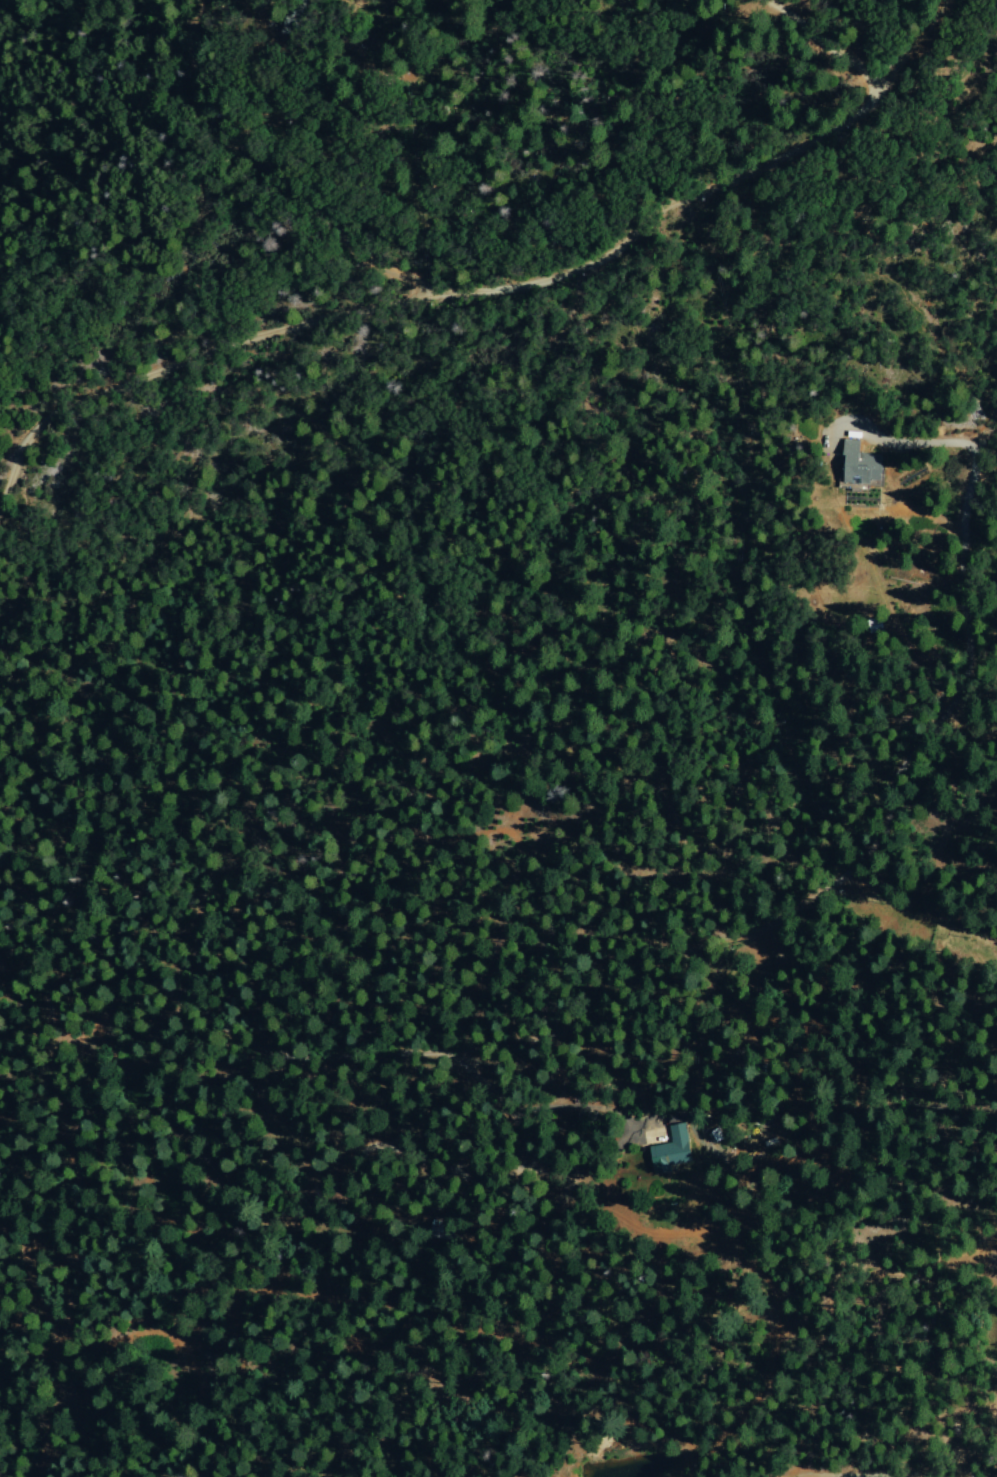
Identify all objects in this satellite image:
road: (261, 6)
road: (259, 169)
road: (480, 288)
building: (856, 464)
building: (863, 494)
road: (965, 617)
road: (918, 880)
road: (416, 1049)
road: (554, 1117)
building: (667, 1151)
road: (54, 1339)
road: (841, 1472)

